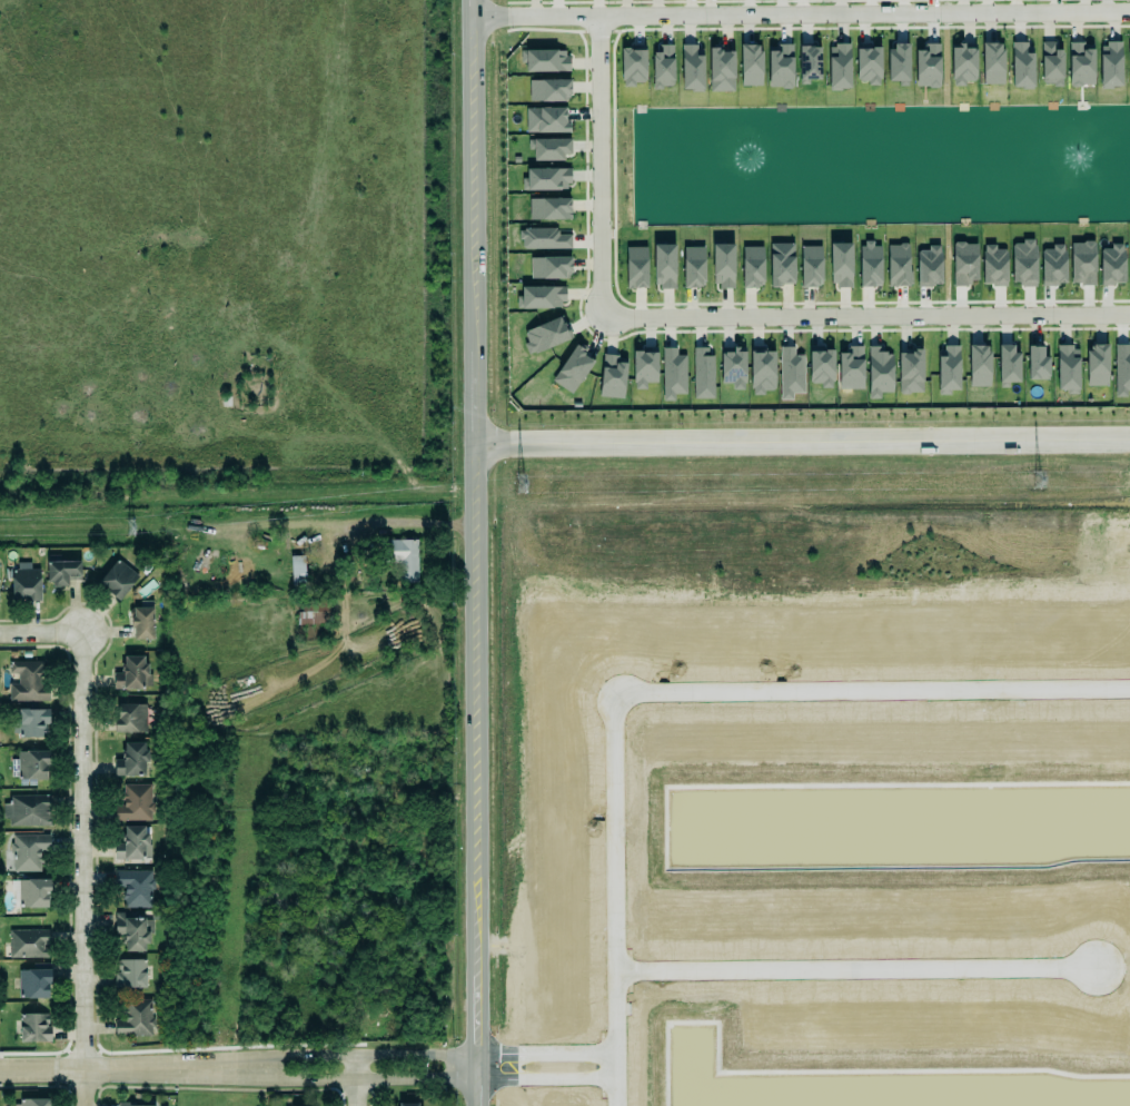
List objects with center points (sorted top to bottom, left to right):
road: (797, 12)
building: (1129, 49)
building: (809, 59)
building: (545, 60)
building: (991, 60)
building: (869, 61)
building: (1050, 61)
building: (839, 63)
building: (898, 63)
building: (1020, 63)
building: (751, 65)
building: (926, 65)
building: (962, 65)
building: (1080, 65)
building: (1110, 65)
building: (633, 66)
building: (663, 66)
building: (780, 66)
building: (691, 69)
building: (722, 70)
building: (549, 90)
building: (546, 119)
building: (549, 148)
road: (599, 167)
building: (546, 179)
building: (549, 208)
building: (544, 238)
building: (964, 263)
building: (1023, 263)
building: (1082, 263)
building: (635, 264)
building: (782, 264)
building: (841, 264)
building: (723, 265)
building: (870, 265)
building: (898, 265)
building: (1053, 265)
building: (1111, 265)
building: (664, 266)
building: (752, 266)
building: (811, 266)
building: (929, 266)
building: (993, 266)
building: (551, 267)
building: (693, 267)
building: (539, 294)
road: (863, 319)
building: (545, 333)
building: (978, 362)
building: (1008, 363)
building: (1037, 364)
building: (1097, 364)
building: (821, 366)
building: (733, 367)
building: (1065, 367)
building: (644, 368)
building: (851, 368)
building: (573, 369)
building: (762, 369)
building: (948, 369)
building: (672, 371)
building: (911, 371)
building: (879, 372)
building: (703, 373)
building: (791, 373)
building: (612, 377)
road: (800, 434)
power tower: (1037, 480)
power tower: (521, 485)
power tower: (130, 529)
road: (472, 552)
building: (400, 557)
building: (297, 562)
building: (60, 571)
building: (116, 577)
building: (23, 583)
building: (314, 612)
building: (139, 621)
building: (10, 653)
building: (132, 673)
building: (27, 680)
road: (667, 687)
building: (128, 717)
building: (31, 722)
building: (131, 760)
building: (30, 763)
building: (132, 802)
building: (26, 809)
road: (83, 827)
building: (133, 843)
building: (28, 851)
building: (136, 887)
building: (31, 892)
building: (129, 930)
building: (29, 944)
road: (850, 965)
building: (130, 971)
building: (31, 981)
building: (136, 1018)
building: (31, 1026)
road: (542, 1053)
road: (363, 1055)
road: (128, 1068)
road: (542, 1076)
road: (364, 1078)
road: (357, 1080)
building: (32, 1103)
building: (122, 1103)
building: (409, 1104)

